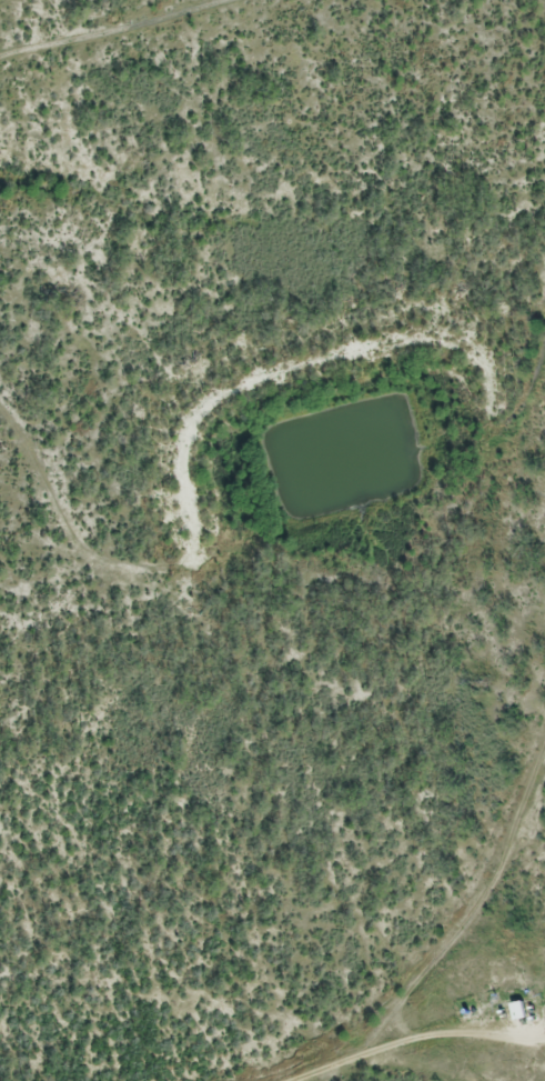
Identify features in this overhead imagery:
building: (515, 1009)

